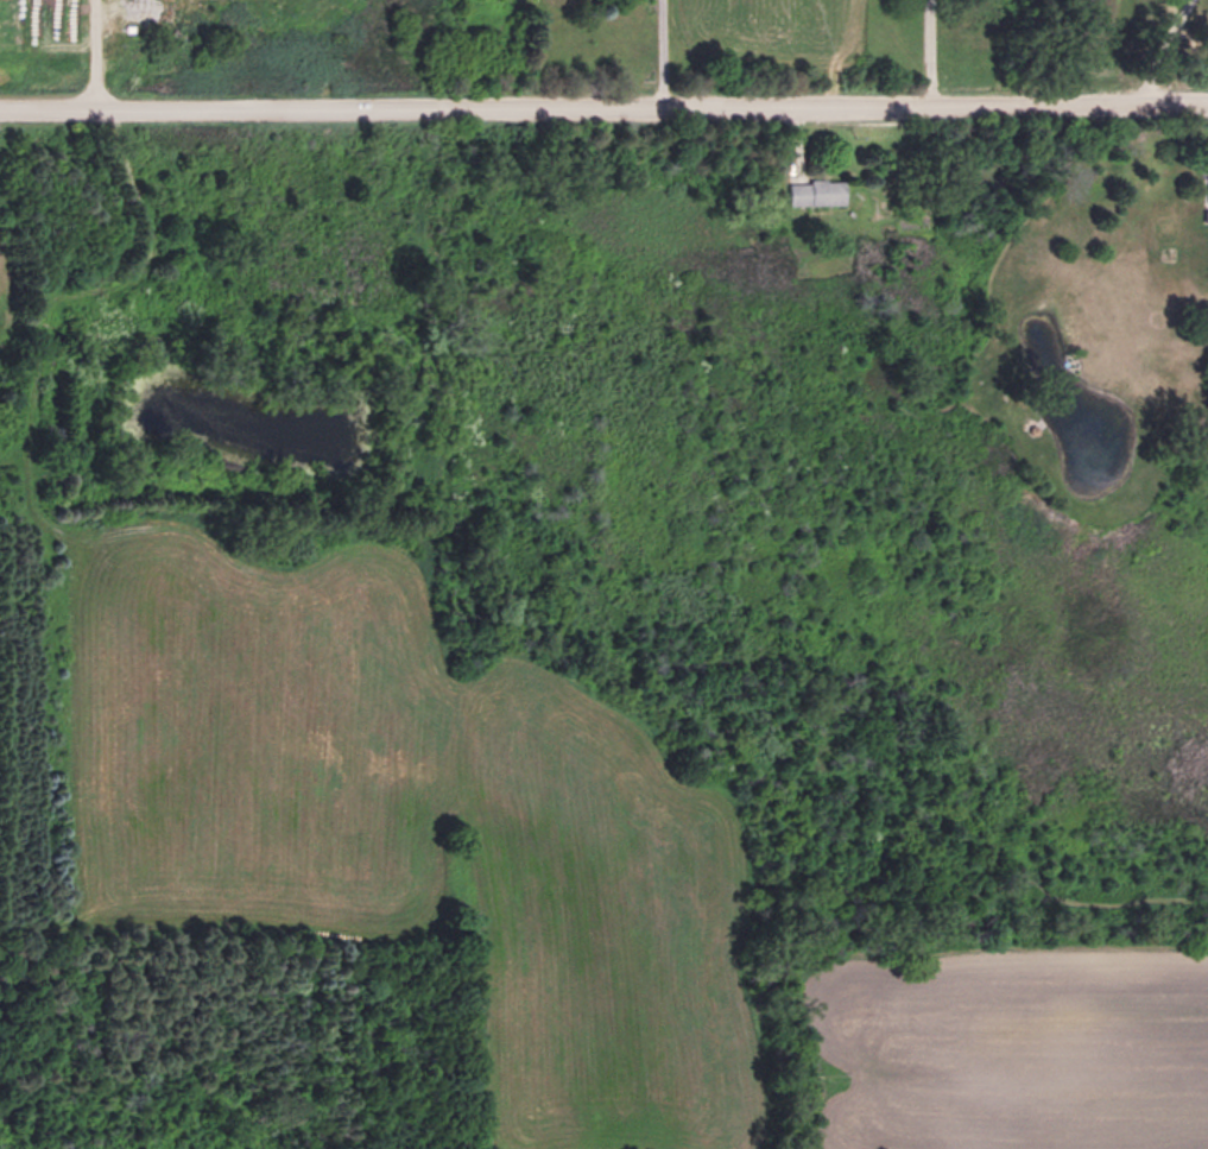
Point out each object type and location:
road: (1159, 50)
road: (90, 53)
road: (603, 105)

